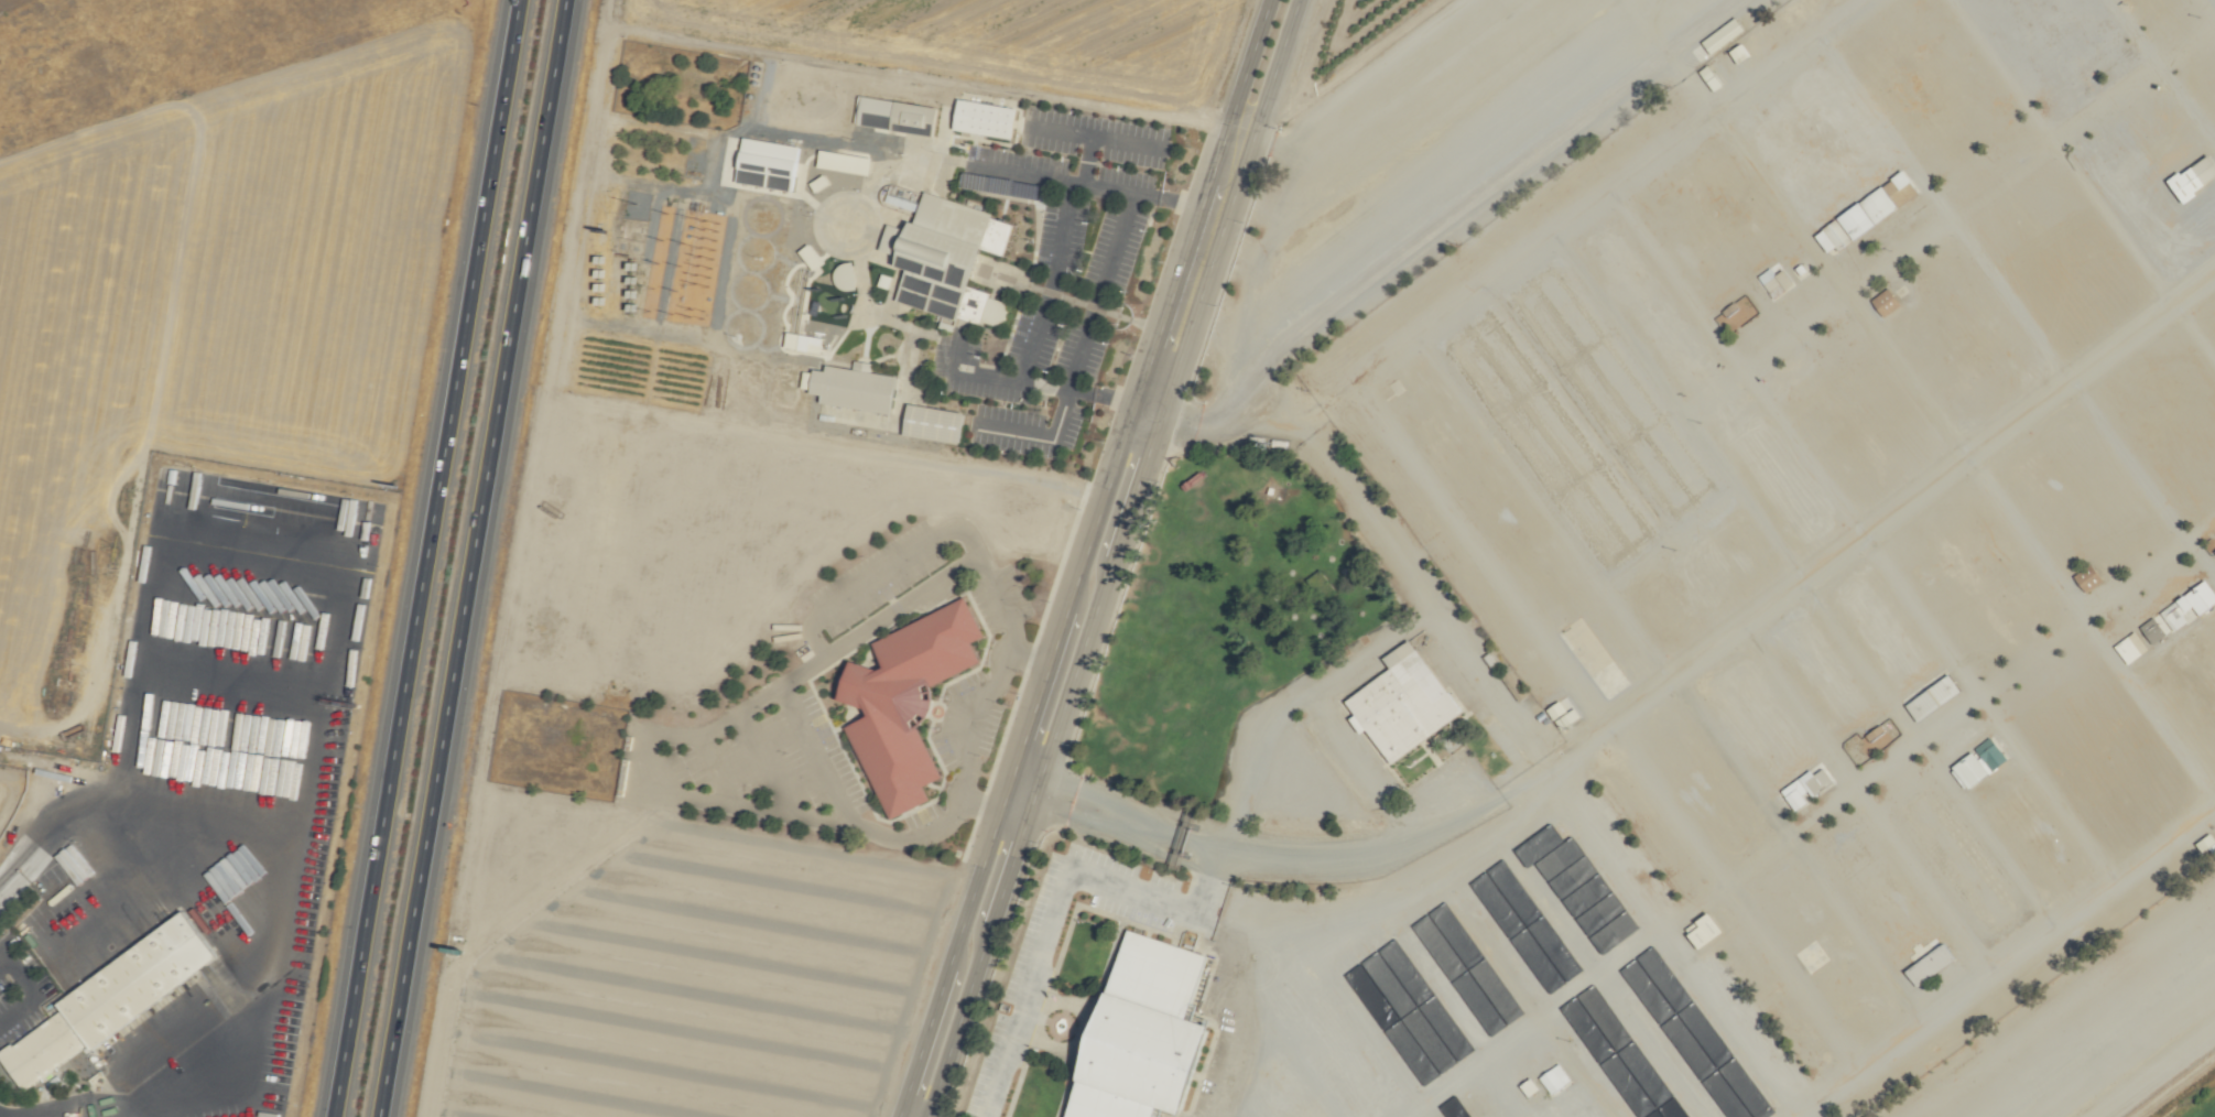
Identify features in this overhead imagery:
crop: (1158, 32)
building: (1718, 35)
road: (1237, 100)
building: (892, 115)
building: (979, 118)
road: (1058, 130)
road: (1103, 137)
road: (922, 159)
building: (839, 161)
building: (2191, 176)
road: (1229, 204)
building: (1869, 207)
road: (1446, 218)
building: (944, 258)
road: (1180, 272)
building: (840, 275)
building: (1763, 275)
building: (1883, 302)
building: (1736, 311)
road: (1035, 335)
road: (1233, 338)
road: (1079, 354)
building: (849, 386)
road: (1043, 388)
road: (1100, 399)
road: (1148, 406)
building: (927, 422)
road: (1152, 433)
building: (180, 486)
building: (246, 492)
building: (295, 501)
building: (332, 508)
road: (1127, 508)
road: (1883, 519)
road: (940, 535)
building: (2212, 544)
road: (424, 558)
road: (473, 558)
building: (2085, 578)
building: (220, 614)
building: (2128, 647)
road: (1051, 654)
building: (1930, 697)
road: (1064, 700)
building: (901, 701)
building: (178, 723)
road: (981, 723)
building: (1855, 745)
road: (644, 749)
road: (823, 755)
building: (1252, 762)
building: (1976, 762)
road: (772, 763)
building: (248, 769)
road: (717, 769)
building: (1802, 788)
road: (1016, 803)
building: (2204, 843)
road: (1297, 858)
road: (1003, 885)
road: (1052, 898)
building: (219, 915)
building: (1700, 930)
building: (1924, 966)
road: (34, 990)
building: (106, 998)
road: (957, 1021)
road: (923, 1042)
building: (1552, 1078)
road: (1843, 1085)
road: (50, 1108)

